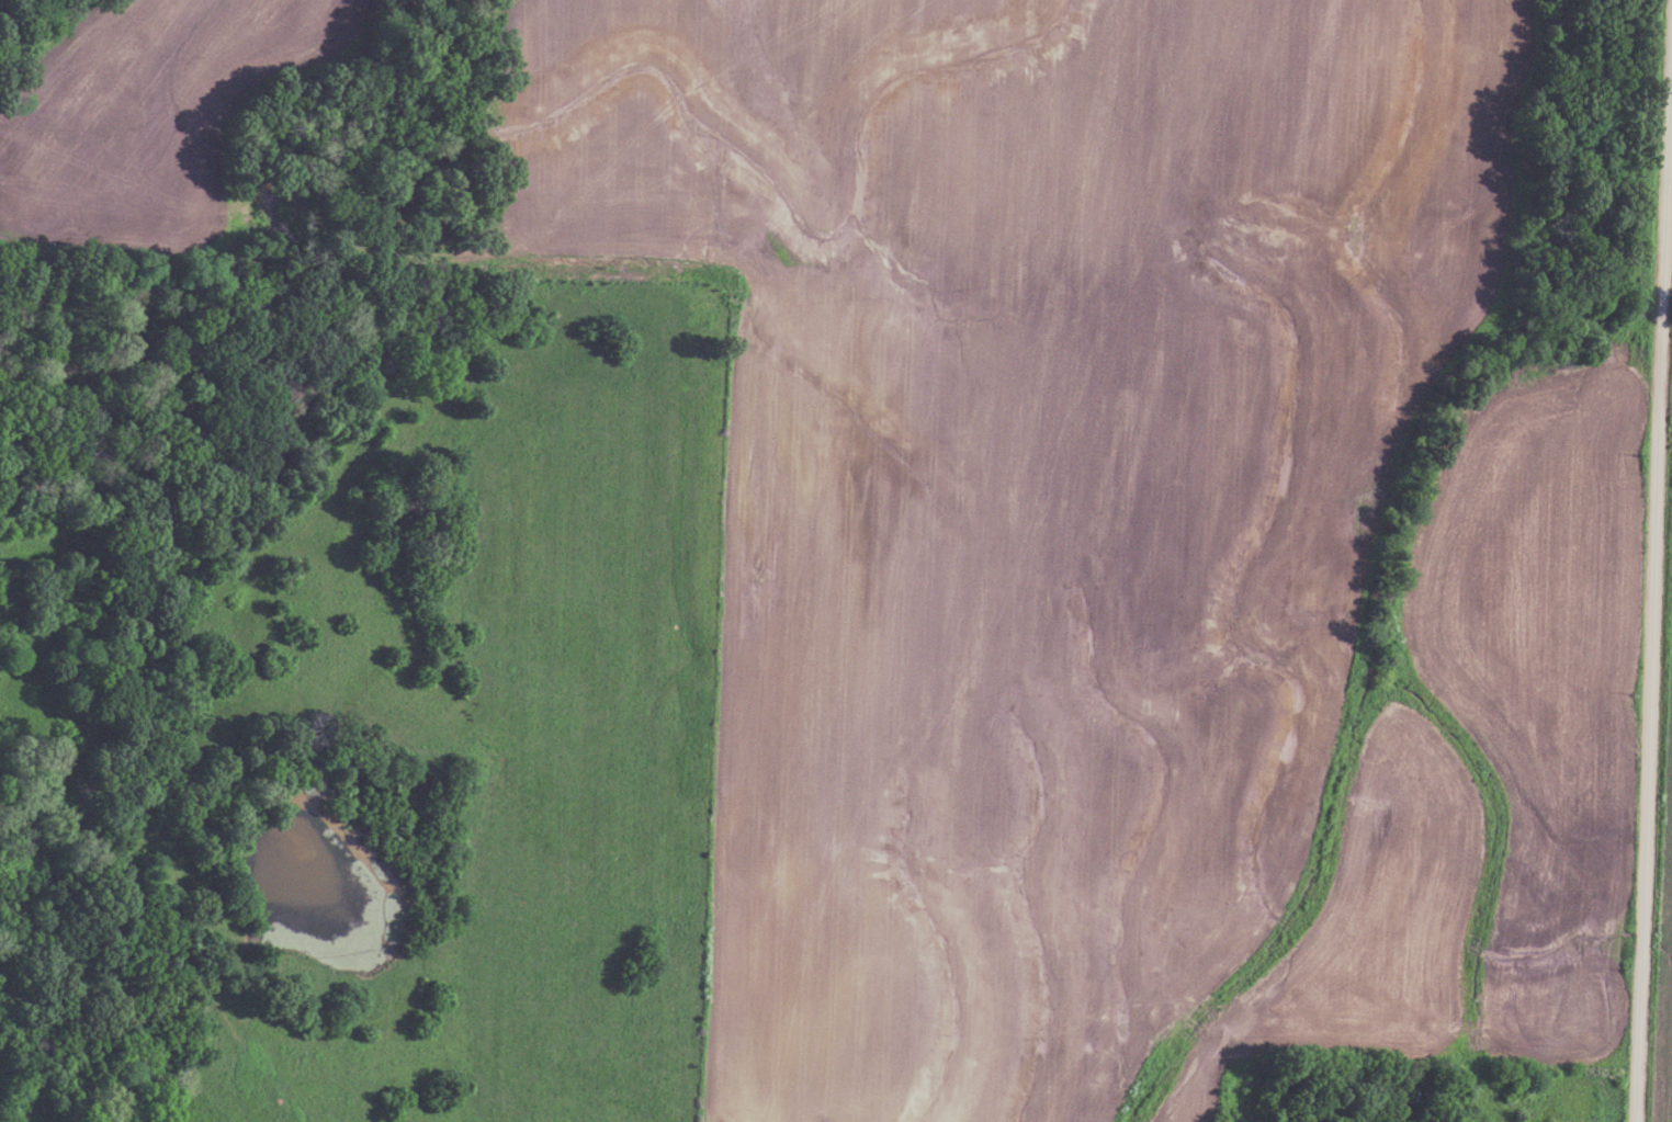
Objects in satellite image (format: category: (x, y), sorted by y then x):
road: (1652, 631)

